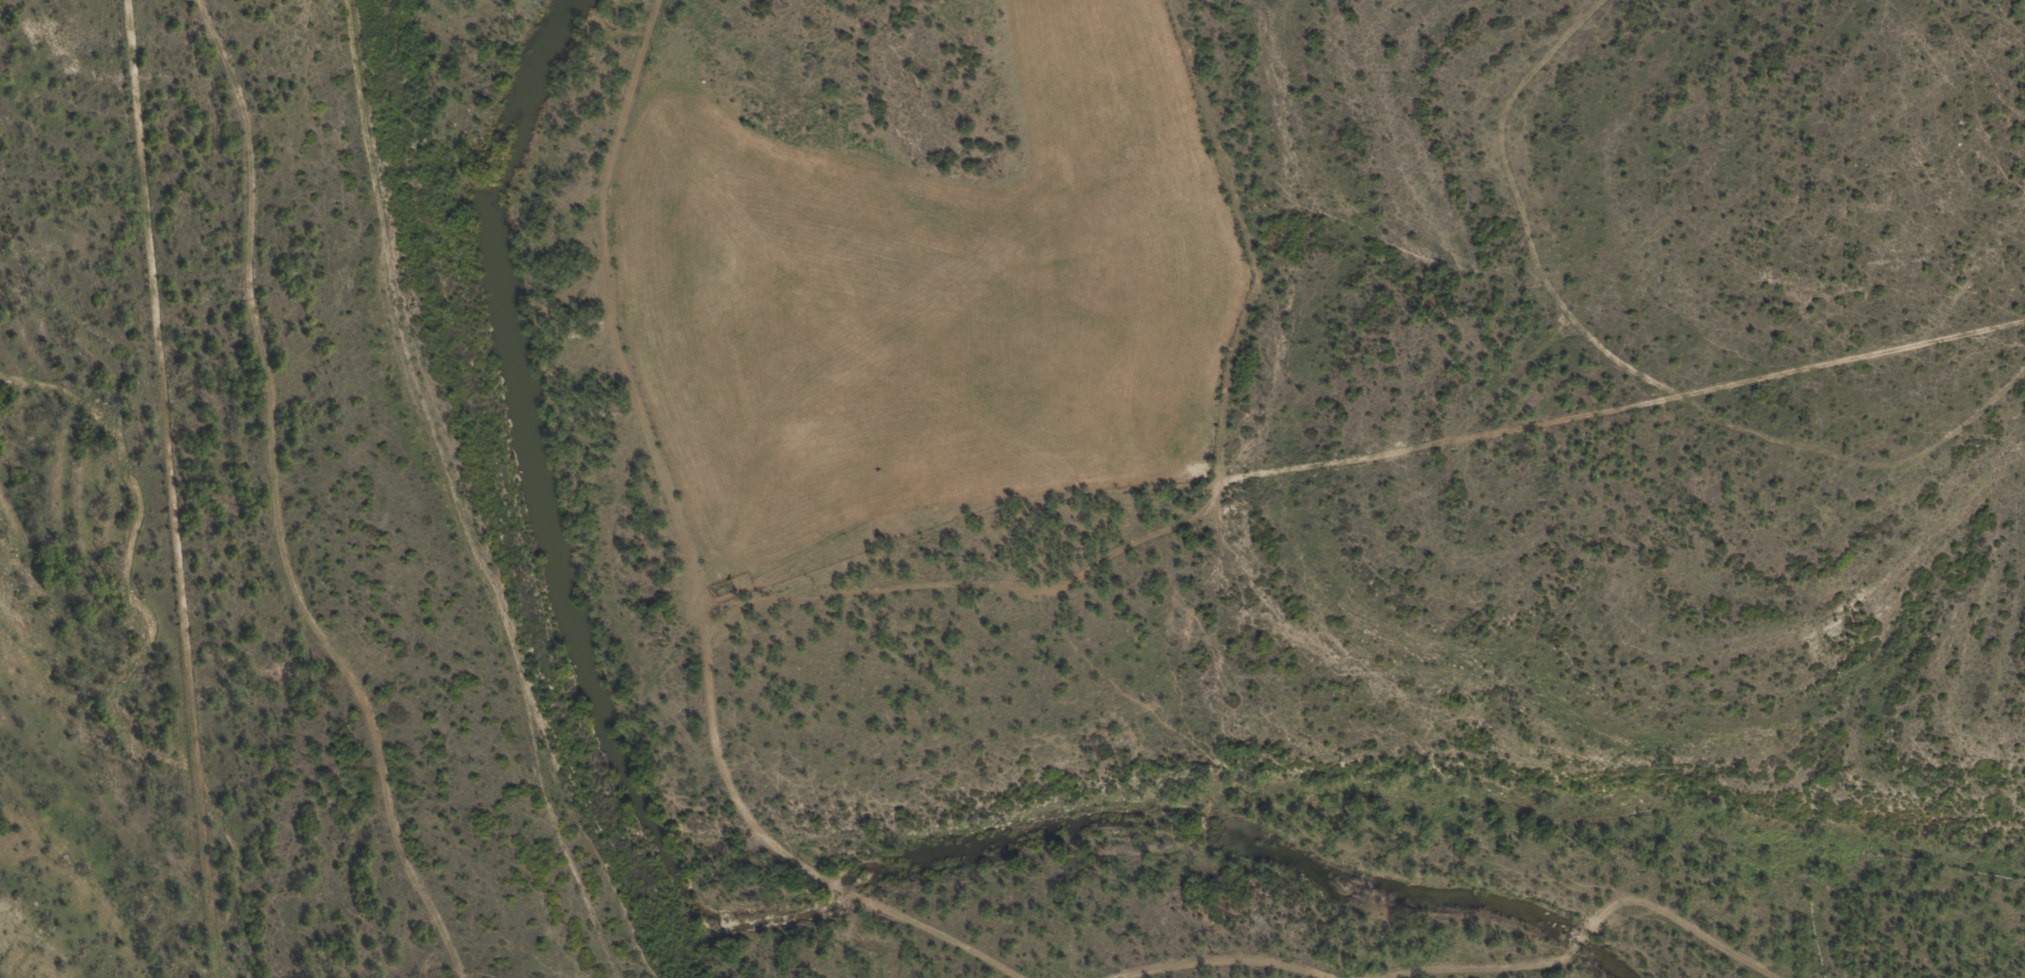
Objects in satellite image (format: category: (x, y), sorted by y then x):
road: (285, 501)
road: (673, 546)
road: (1440, 971)

